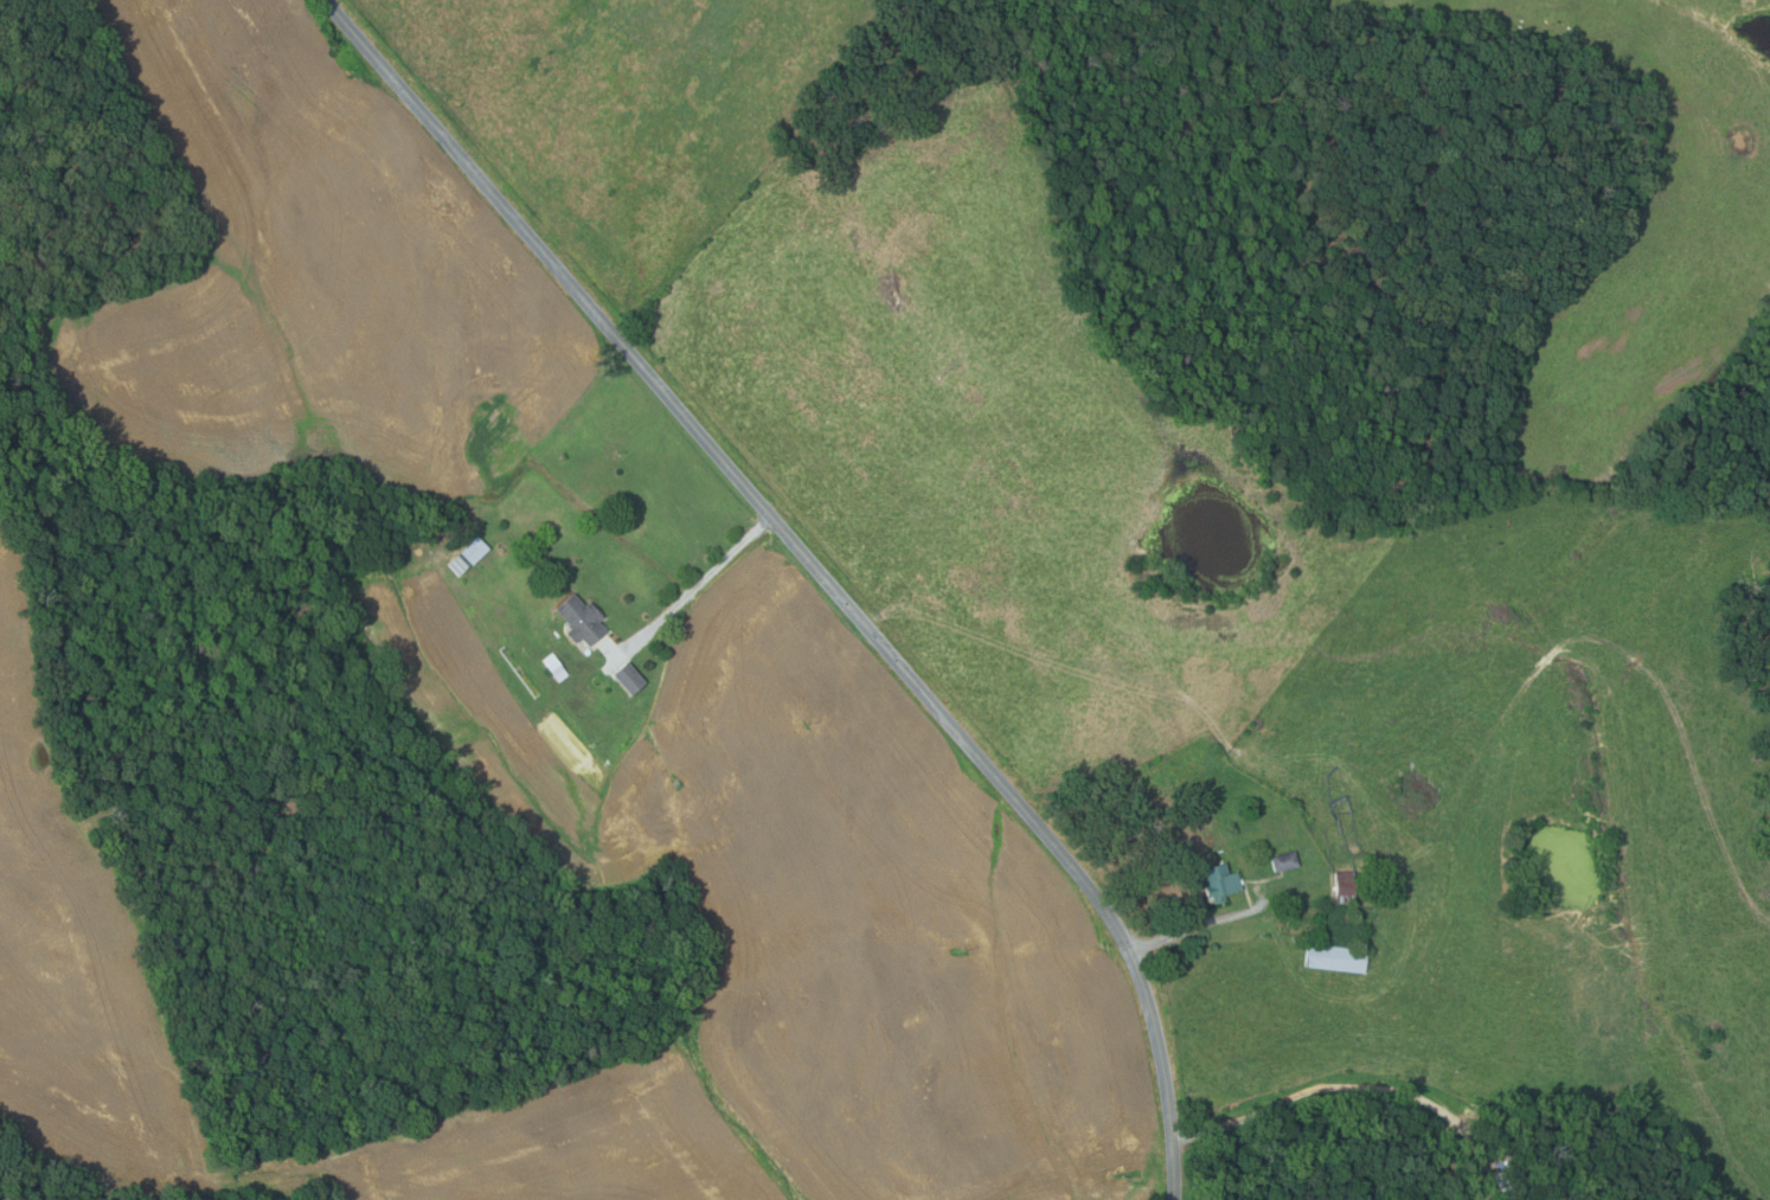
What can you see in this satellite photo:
crop: (316, 277)
building: (475, 550)
building: (458, 564)
road: (816, 567)
road: (708, 590)
building: (582, 620)
building: (556, 667)
building: (630, 678)
building: (1285, 861)
crop: (867, 867)
building: (1223, 881)
building: (1346, 886)
road: (1194, 923)
building: (1336, 958)
building: (1505, 1186)
building: (1553, 1198)

